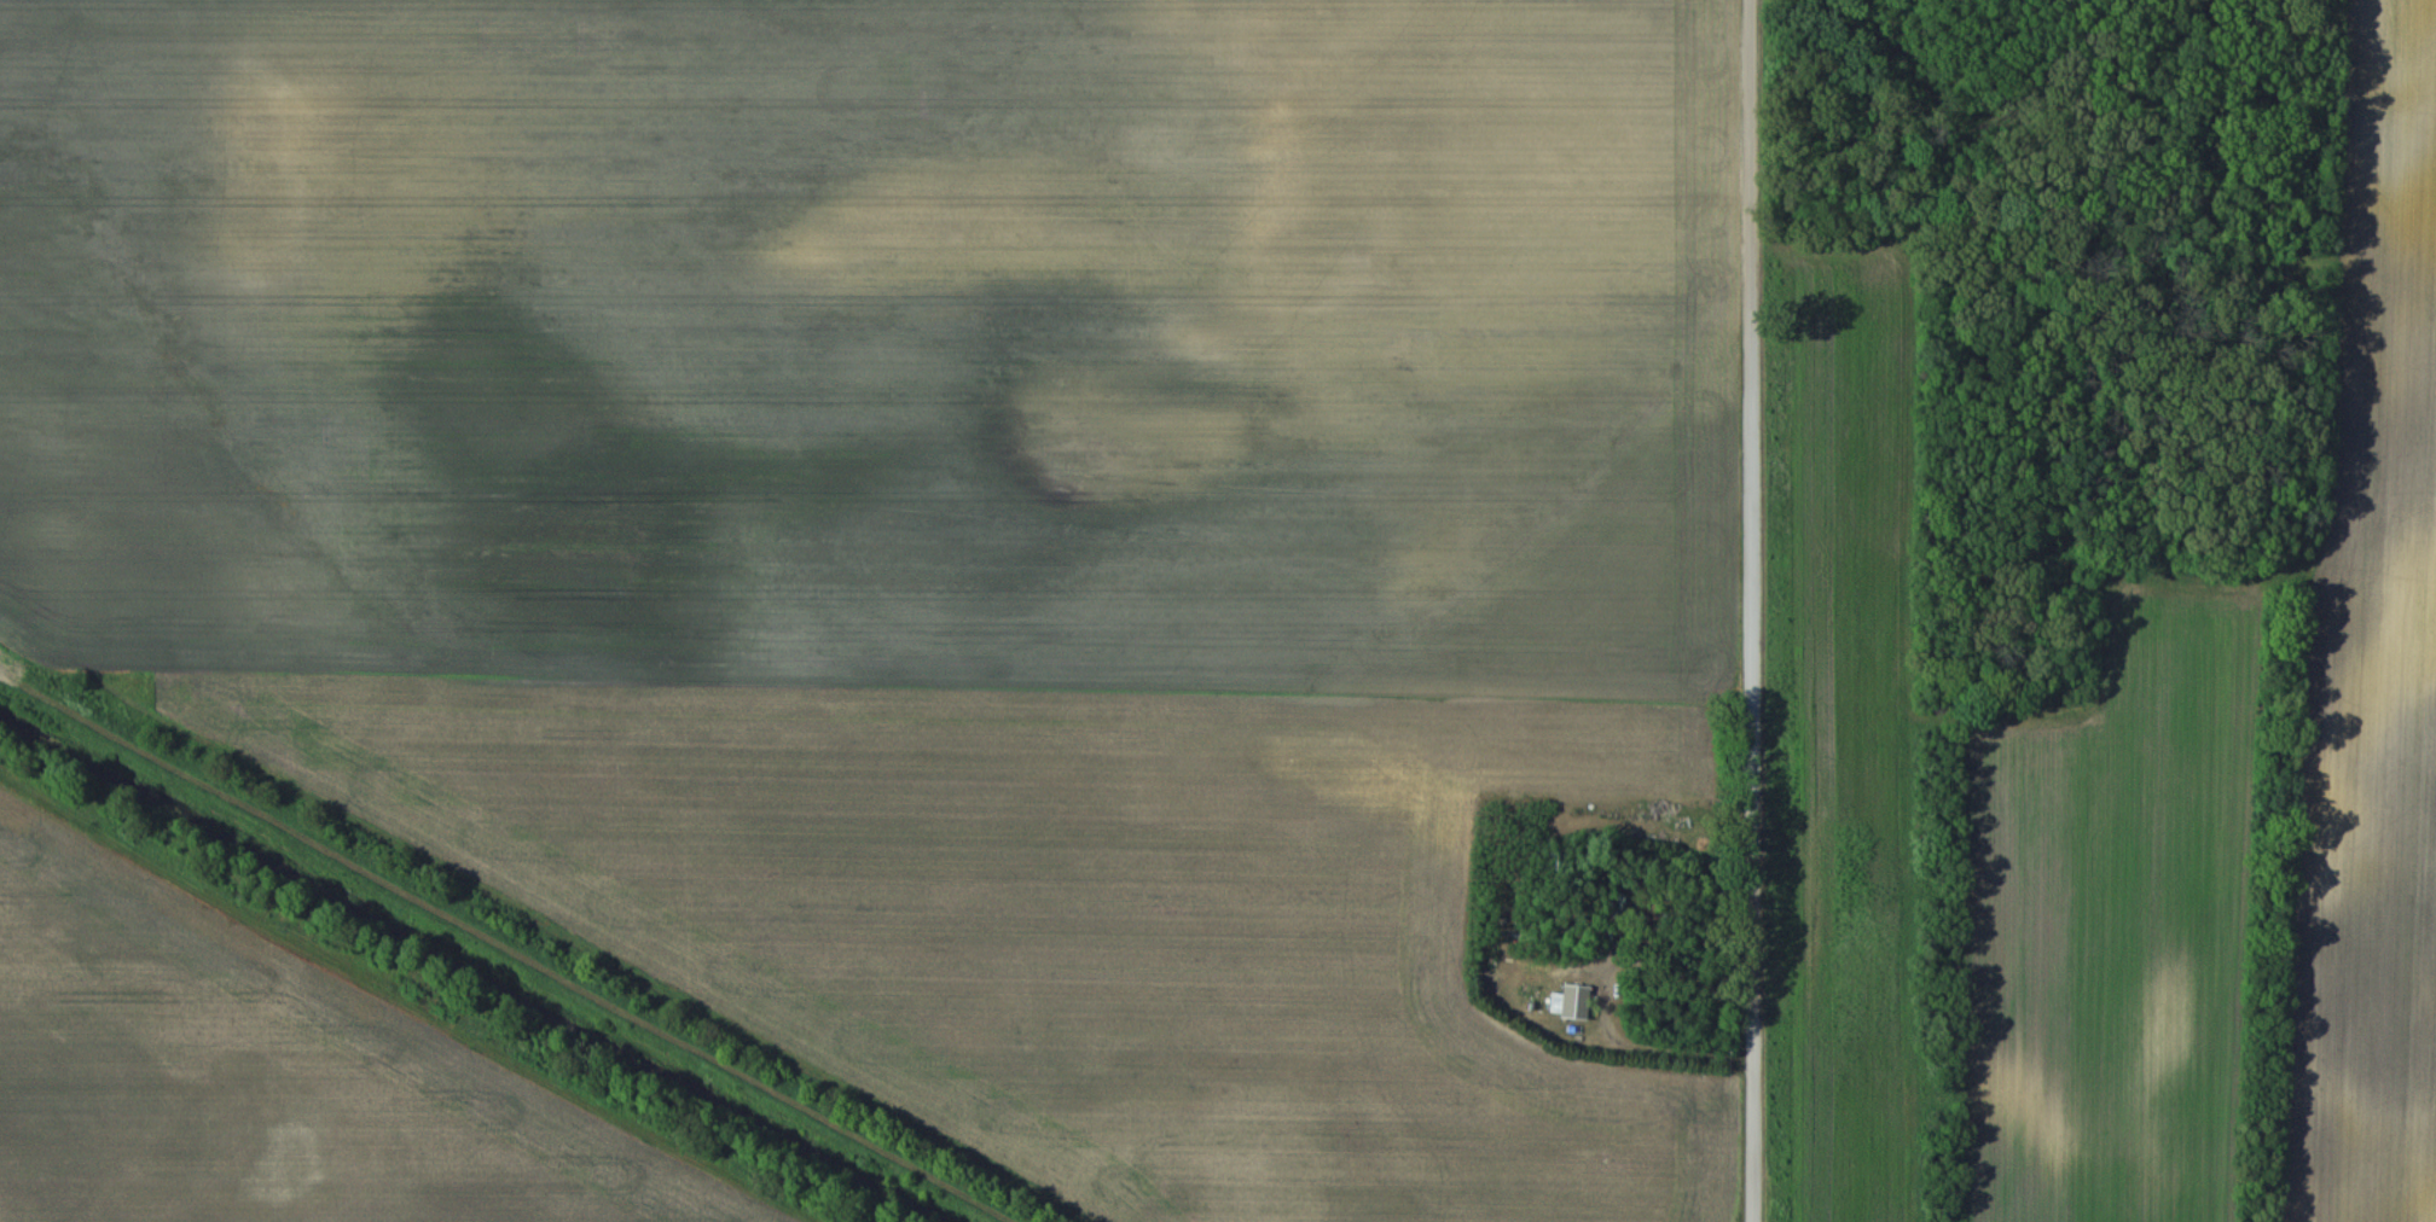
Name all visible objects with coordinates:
road: (1757, 610)
building: (1567, 1002)
road: (1675, 1043)

